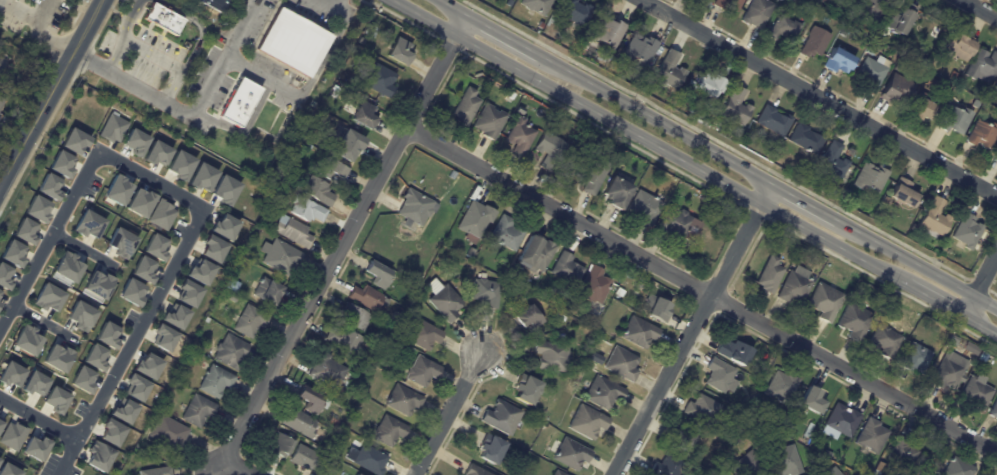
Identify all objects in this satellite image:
building: (728, 4)
building: (217, 5)
building: (536, 5)
road: (453, 7)
road: (981, 8)
building: (569, 9)
building: (869, 9)
building: (756, 13)
building: (164, 18)
building: (897, 22)
road: (198, 27)
building: (783, 27)
road: (241, 29)
building: (605, 32)
road: (122, 35)
road: (502, 35)
building: (294, 41)
building: (814, 42)
building: (959, 47)
building: (637, 49)
building: (398, 52)
building: (837, 60)
building: (3, 64)
road: (166, 64)
road: (224, 65)
building: (981, 65)
building: (668, 70)
building: (871, 71)
building: (377, 79)
building: (706, 83)
building: (895, 87)
building: (995, 87)
road: (51, 92)
road: (818, 98)
building: (240, 101)
building: (1, 103)
building: (464, 106)
building: (920, 106)
building: (734, 107)
building: (364, 115)
building: (953, 119)
road: (656, 120)
building: (488, 121)
building: (772, 121)
building: (113, 128)
building: (980, 133)
building: (518, 136)
road: (639, 136)
building: (805, 139)
building: (74, 141)
building: (135, 142)
building: (345, 143)
building: (549, 150)
building: (157, 153)
building: (995, 153)
building: (832, 161)
building: (567, 163)
building: (61, 164)
building: (180, 165)
building: (331, 170)
building: (591, 176)
building: (201, 177)
building: (870, 177)
road: (151, 180)
building: (49, 187)
building: (116, 190)
building: (224, 190)
building: (317, 190)
building: (615, 192)
building: (902, 193)
road: (805, 202)
building: (139, 203)
building: (414, 208)
building: (644, 208)
building: (36, 209)
building: (305, 210)
building: (161, 214)
building: (933, 217)
building: (474, 221)
building: (678, 223)
building: (88, 225)
building: (224, 227)
building: (291, 230)
building: (24, 231)
building: (964, 231)
building: (505, 233)
road: (48, 242)
building: (121, 243)
building: (155, 247)
building: (212, 248)
road: (83, 249)
road: (338, 251)
building: (534, 253)
building: (12, 254)
building: (279, 256)
road: (916, 264)
building: (66, 267)
building: (566, 268)
building: (143, 270)
building: (199, 272)
building: (376, 274)
building: (768, 274)
building: (4, 277)
building: (98, 284)
building: (231, 284)
building: (794, 285)
building: (593, 286)
road: (980, 287)
road: (701, 290)
building: (266, 291)
building: (0, 292)
building: (130, 292)
building: (484, 292)
building: (187, 293)
road: (925, 294)
building: (365, 297)
building: (48, 298)
building: (442, 301)
building: (823, 301)
building: (657, 310)
building: (81, 316)
building: (174, 316)
building: (354, 316)
building: (527, 317)
building: (250, 320)
building: (854, 321)
road: (43, 323)
road: (981, 324)
road: (694, 330)
building: (638, 332)
building: (421, 334)
building: (107, 335)
building: (163, 337)
building: (347, 339)
building: (26, 340)
building: (884, 340)
road: (131, 341)
building: (230, 351)
building: (733, 352)
building: (550, 355)
building: (915, 356)
building: (57, 358)
building: (94, 358)
building: (620, 363)
building: (147, 366)
building: (325, 369)
building: (420, 371)
building: (948, 371)
building: (11, 374)
building: (719, 376)
building: (82, 379)
building: (215, 381)
building: (34, 383)
building: (780, 384)
building: (135, 387)
building: (525, 389)
building: (975, 392)
building: (602, 393)
building: (401, 399)
building: (55, 400)
building: (311, 400)
building: (811, 400)
building: (123, 410)
building: (197, 410)
building: (703, 410)
building: (993, 410)
road: (448, 413)
building: (500, 417)
road: (38, 418)
building: (841, 419)
building: (587, 421)
building: (1, 422)
building: (297, 422)
building: (387, 430)
building: (111, 432)
building: (167, 434)
building: (870, 435)
building: (12, 436)
building: (680, 437)
building: (279, 444)
building: (34, 447)
building: (490, 448)
building: (901, 448)
building: (570, 454)
building: (98, 456)
building: (304, 457)
building: (366, 459)
building: (784, 460)
building: (747, 465)
building: (666, 466)
building: (956, 467)
building: (8, 470)
building: (155, 471)
building: (474, 471)
building: (831, 472)
building: (557, 473)
building: (356, 474)
building: (843, 474)

